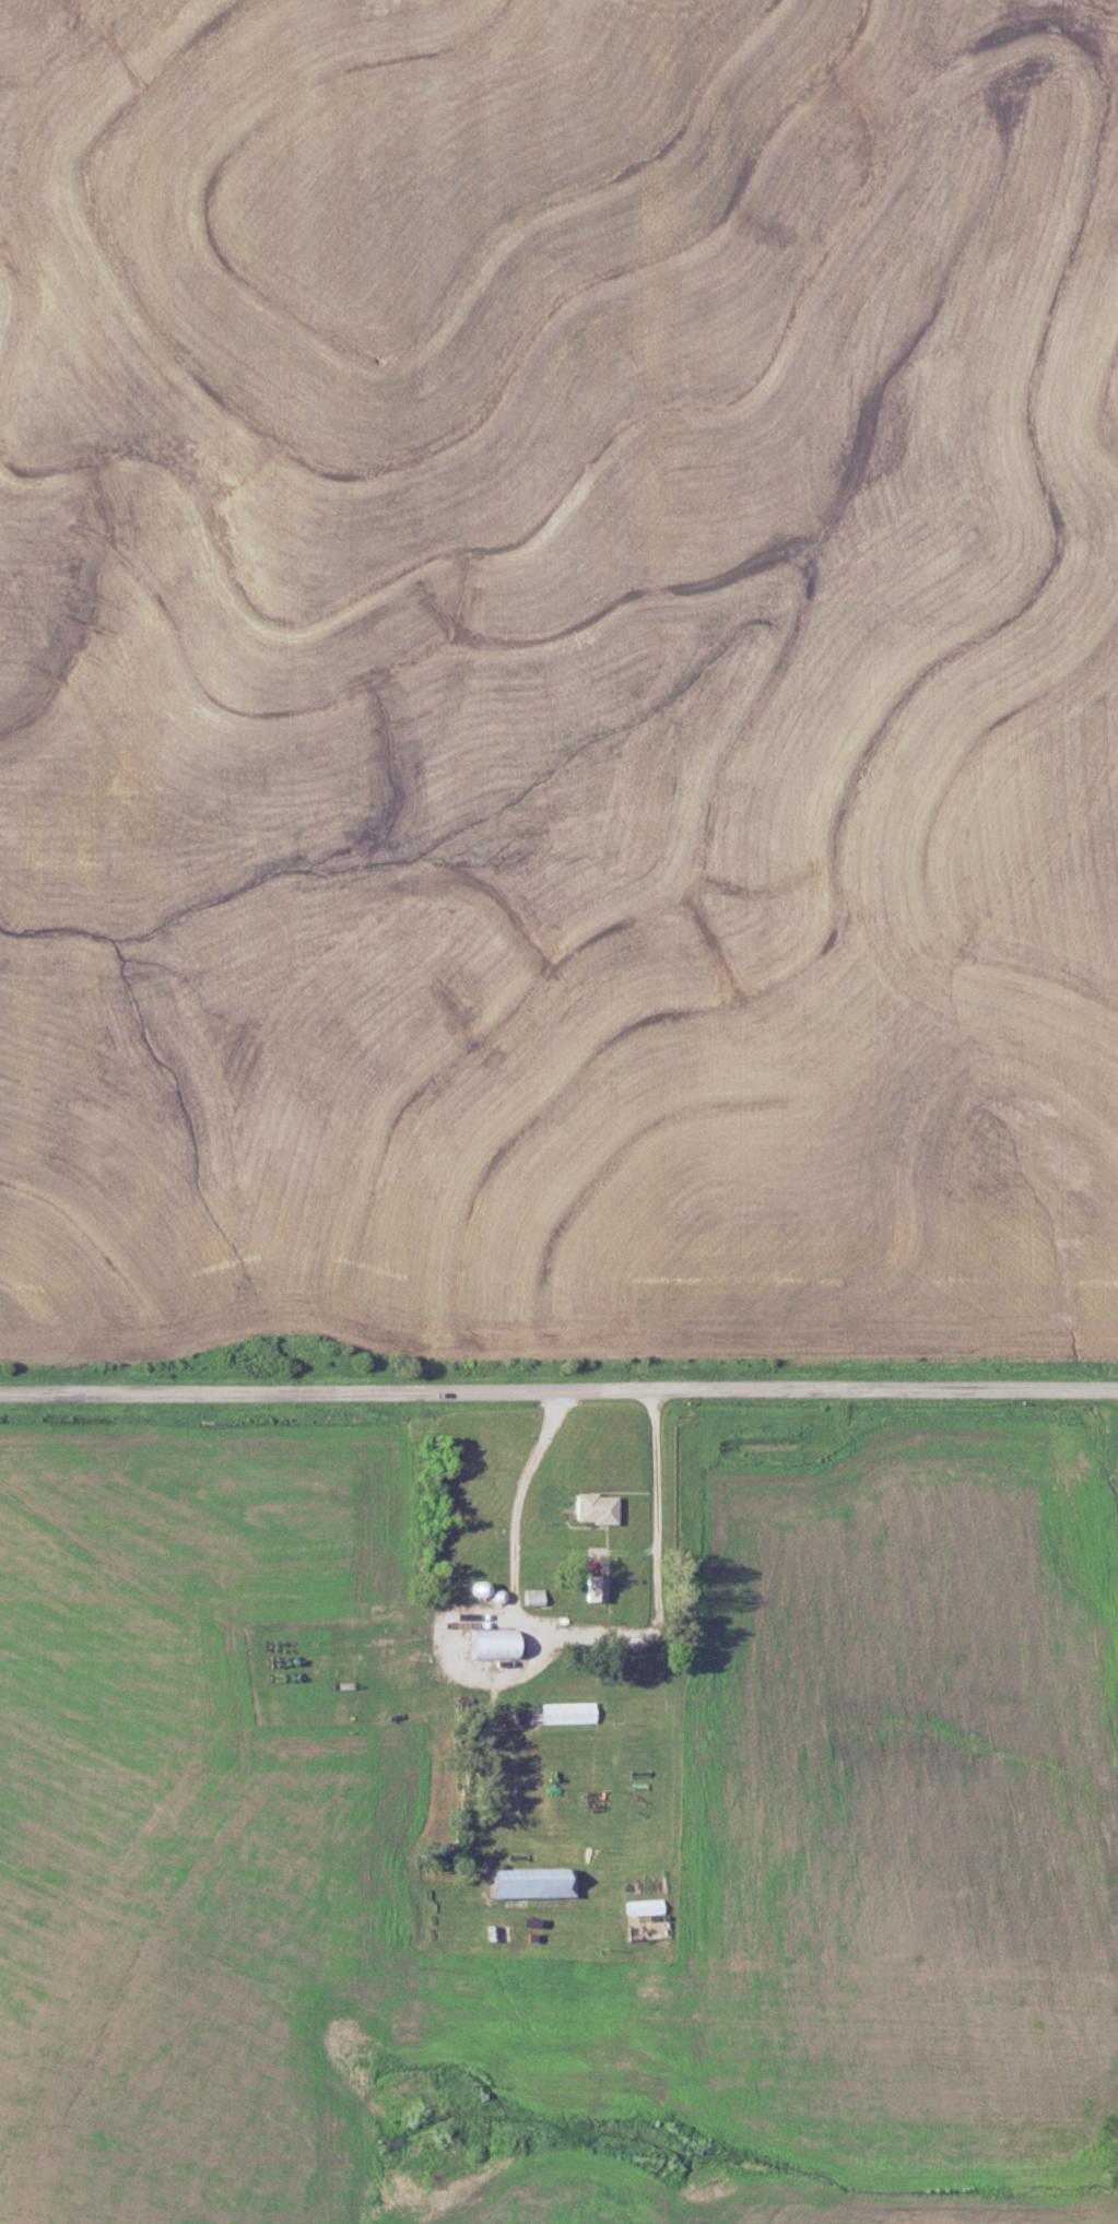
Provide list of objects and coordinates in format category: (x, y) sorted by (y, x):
road: (558, 1390)
building: (596, 1506)
road: (585, 1550)
building: (595, 1586)
building: (532, 1596)
building: (493, 1641)
building: (572, 1710)
building: (533, 1881)

